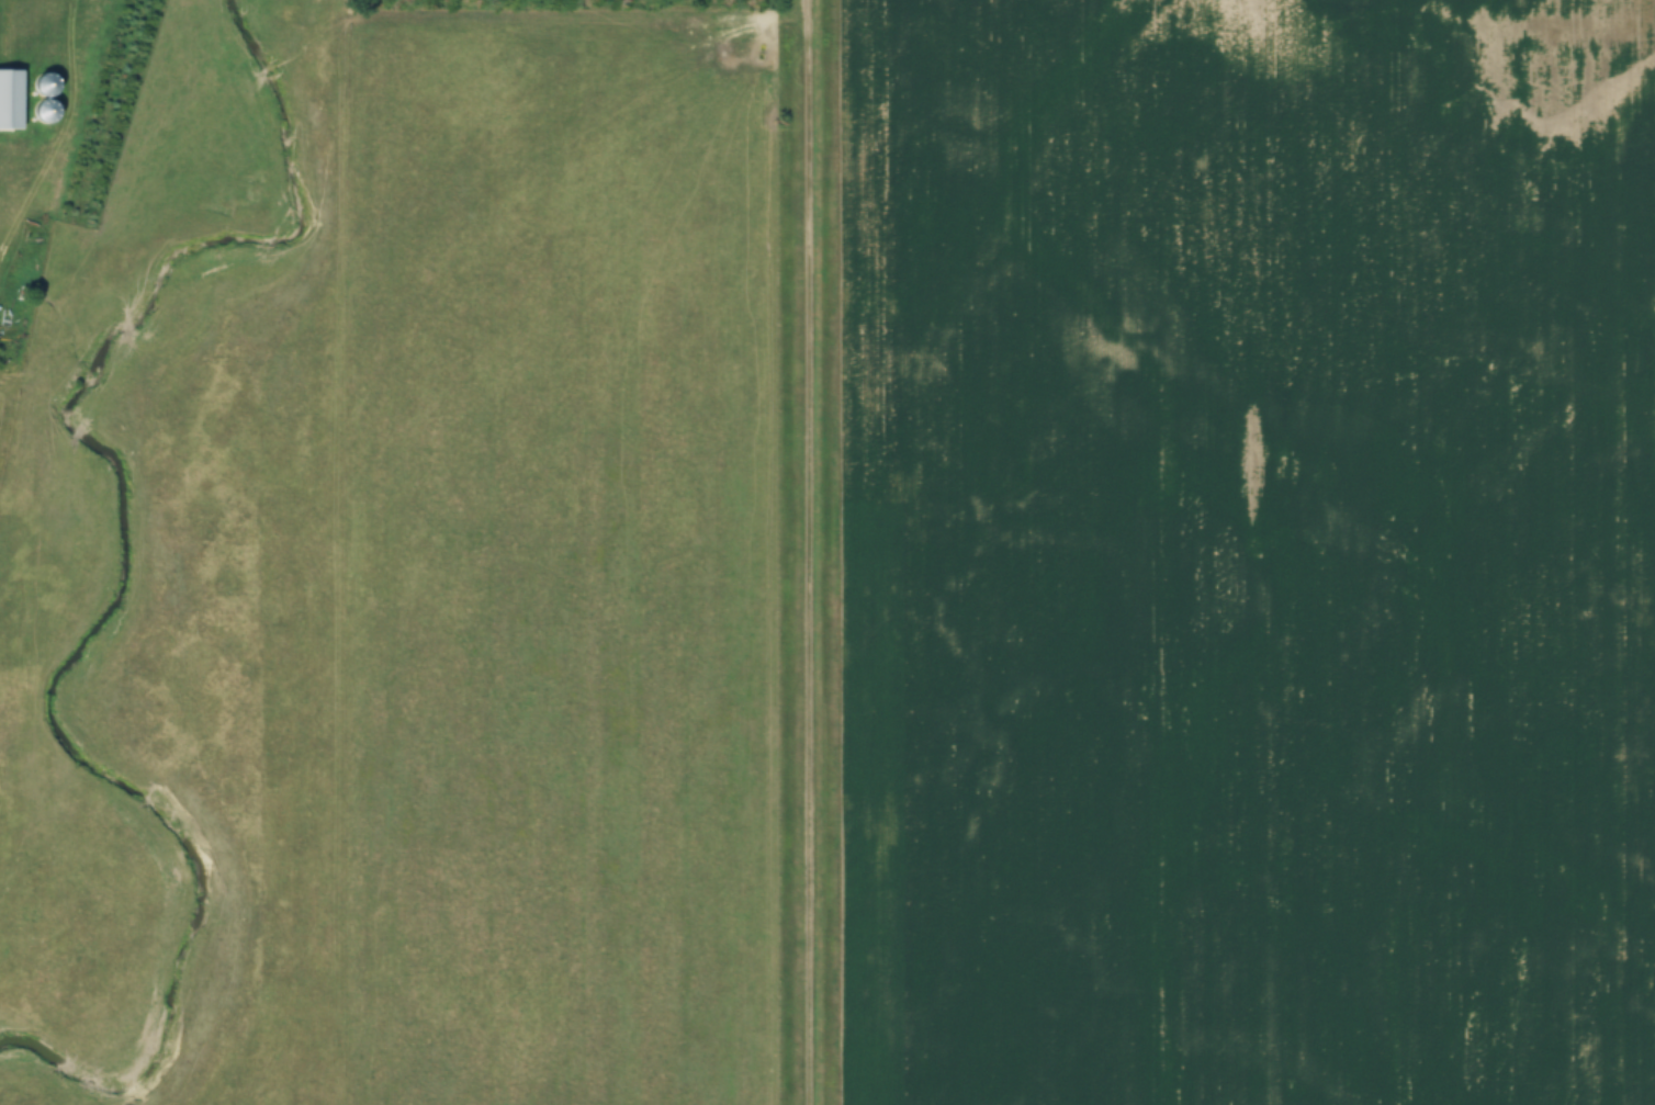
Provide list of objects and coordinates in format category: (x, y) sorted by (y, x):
building: (41, 83)
building: (9, 98)
road: (812, 552)

